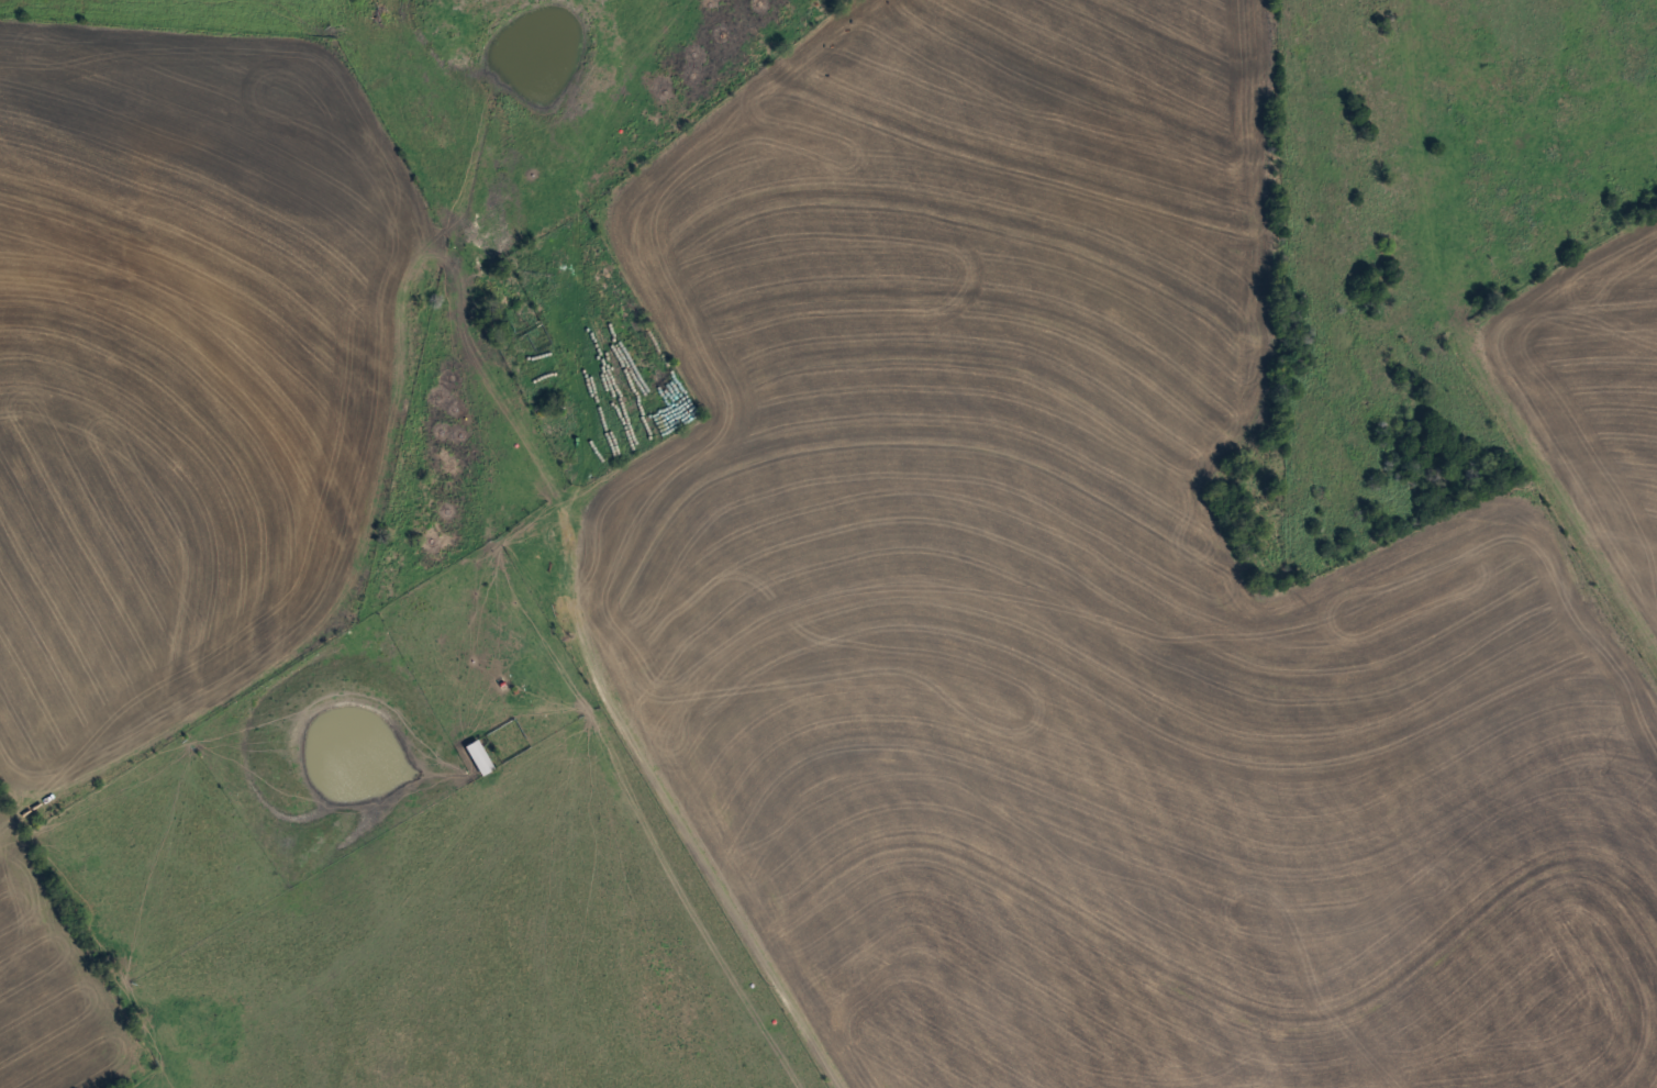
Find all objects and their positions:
building: (479, 756)

